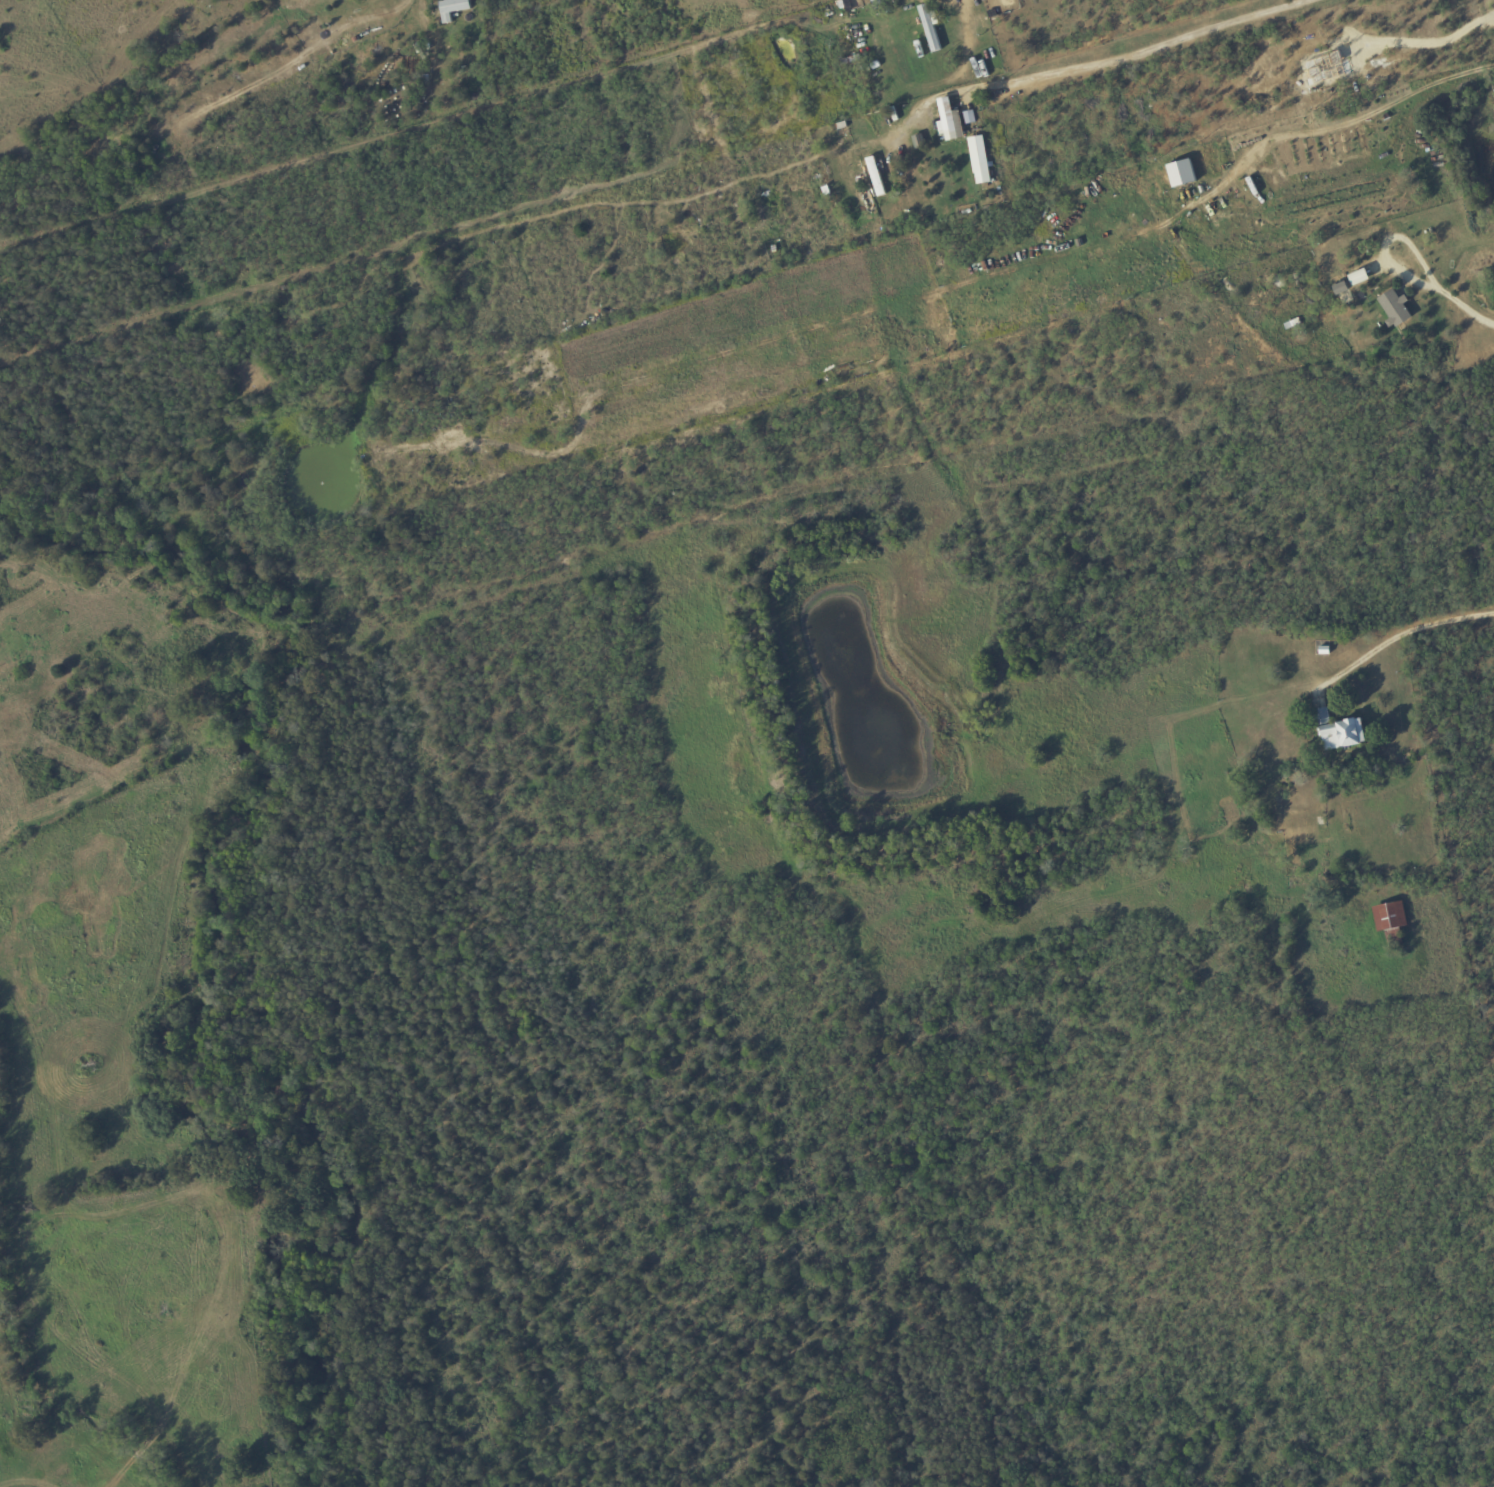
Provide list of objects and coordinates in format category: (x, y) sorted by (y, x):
building: (876, 2)
building: (452, 9)
building: (930, 26)
road: (1142, 55)
building: (969, 117)
building: (949, 121)
road: (1345, 126)
building: (918, 142)
building: (979, 160)
building: (1181, 173)
building: (875, 176)
building: (1341, 287)
building: (1346, 297)
road: (1457, 302)
building: (1394, 308)
road: (1406, 634)
building: (1338, 731)
building: (1390, 915)
building: (1394, 936)

